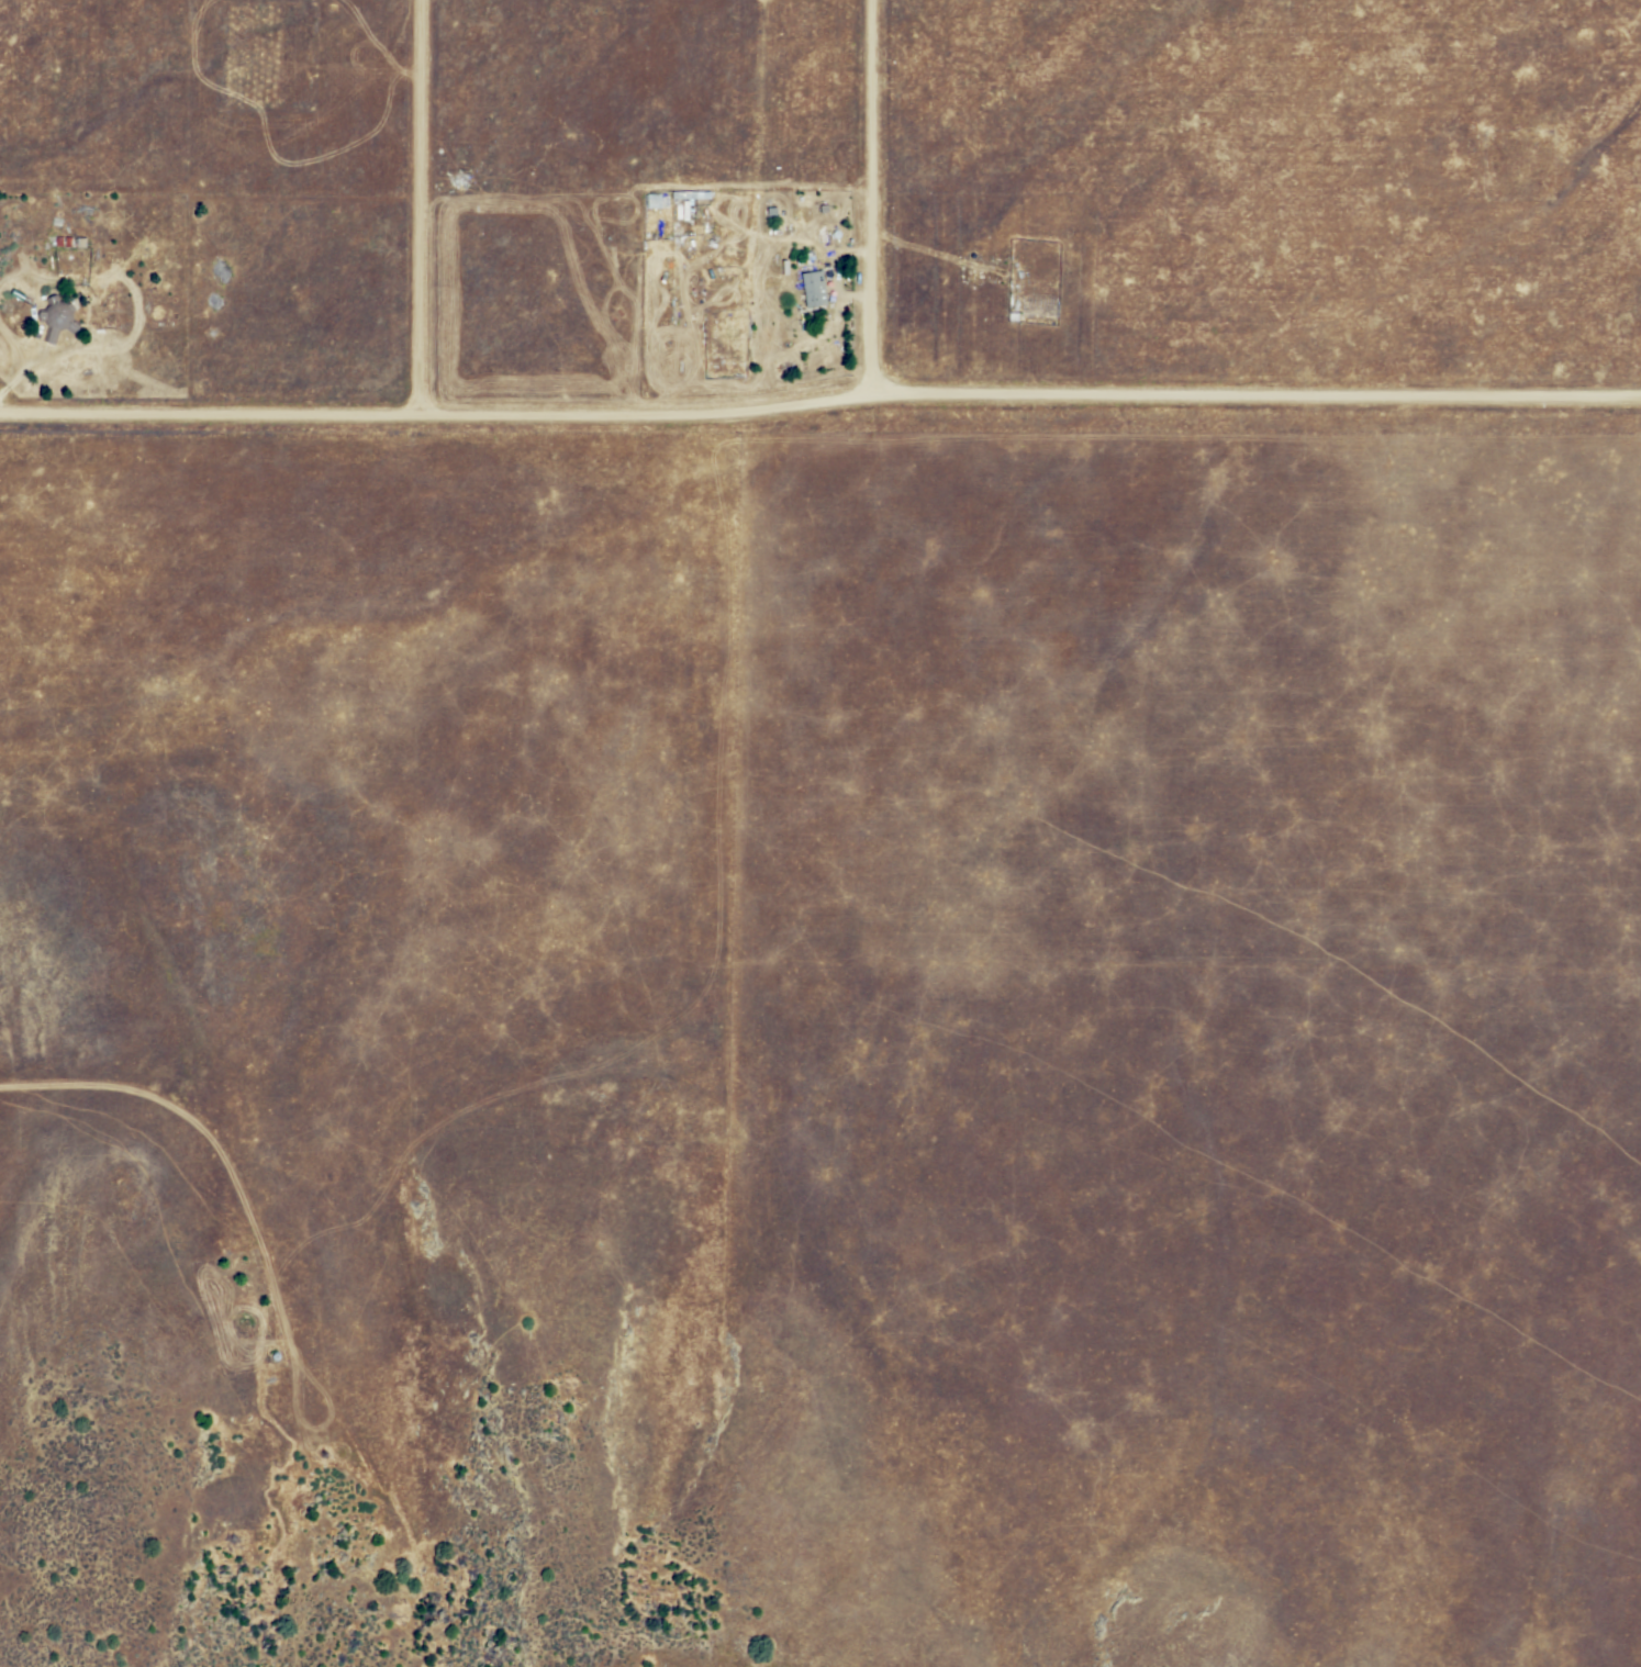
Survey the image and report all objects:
road: (873, 199)
road: (410, 208)
building: (812, 289)
building: (56, 317)
road: (819, 404)
road: (215, 1143)
storage tank: (277, 1357)
road: (321, 1429)

